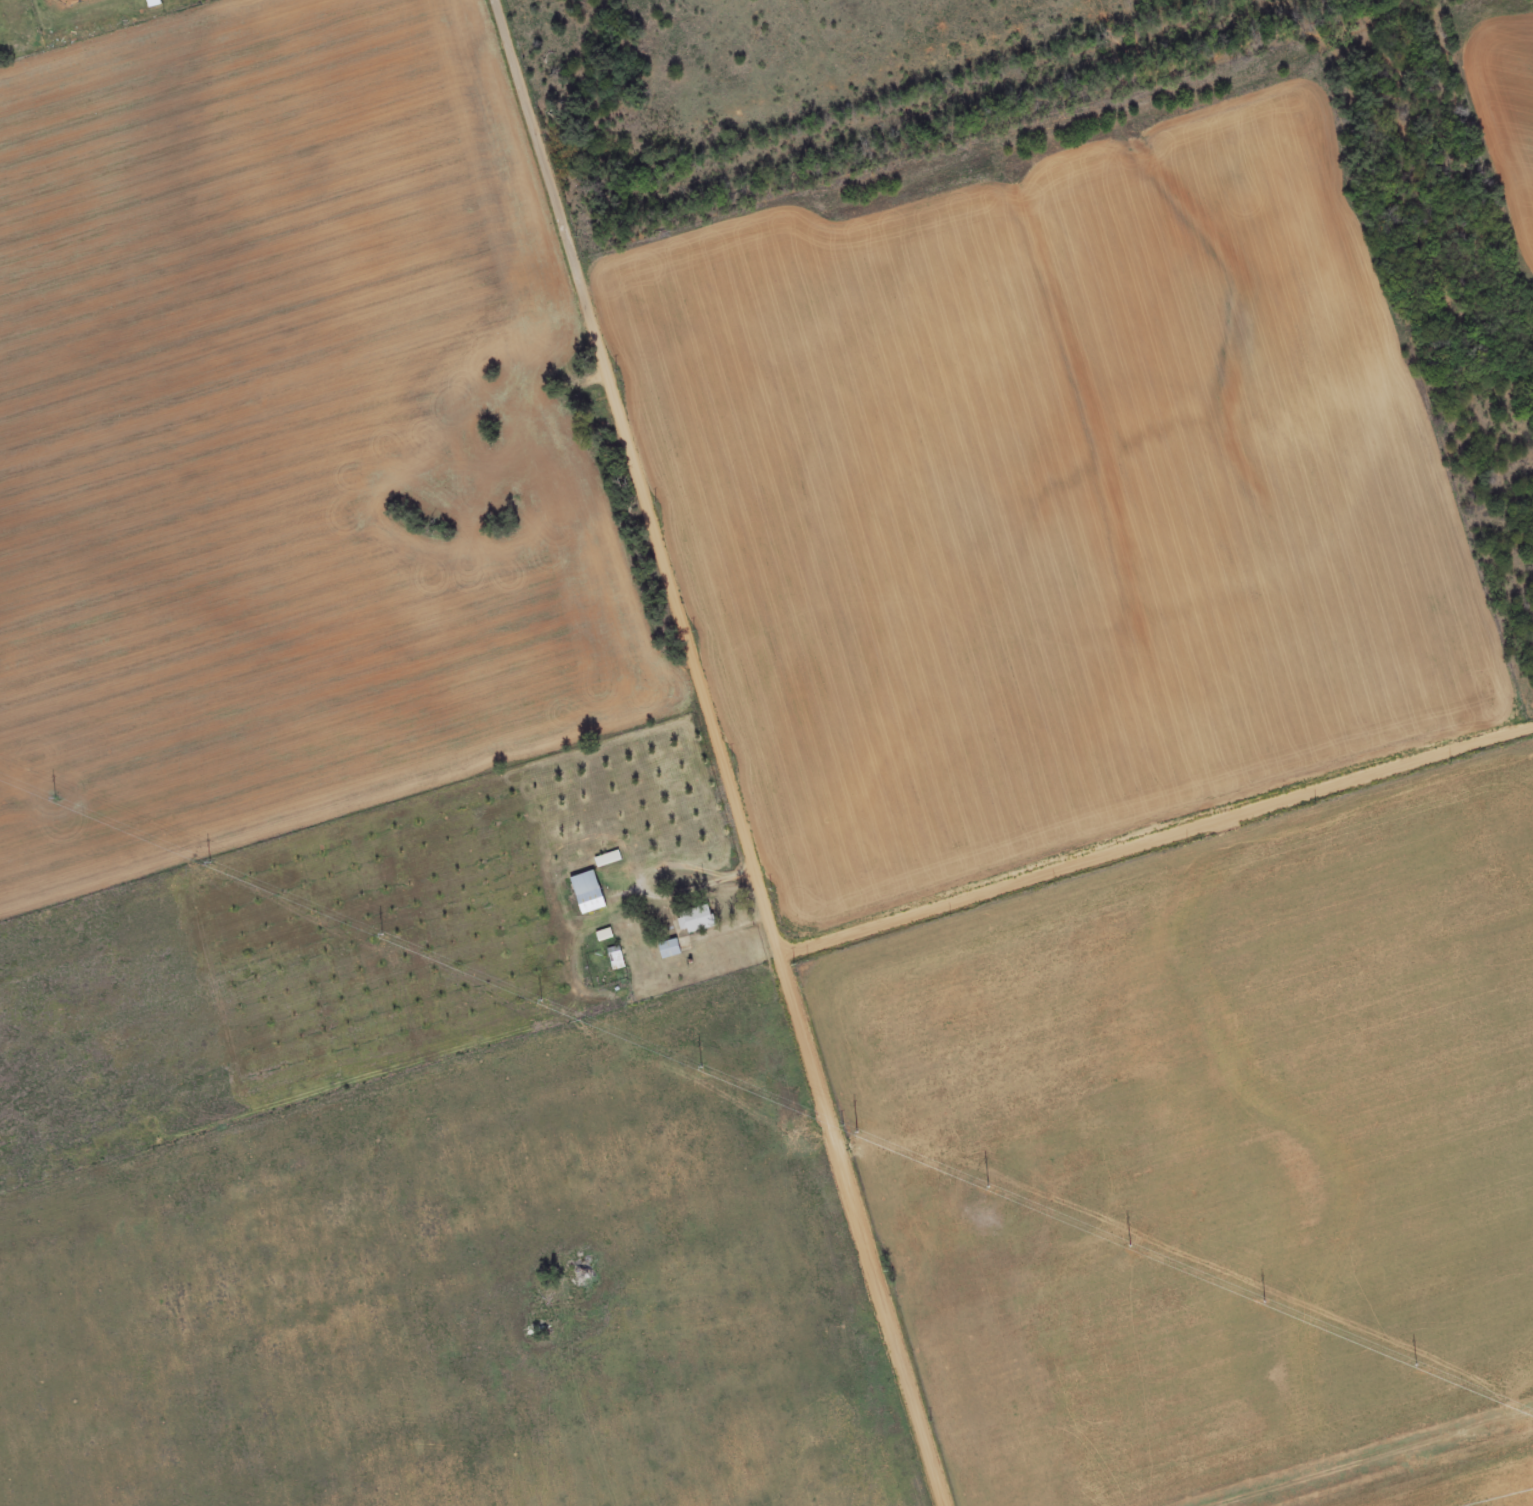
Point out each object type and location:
building: (154, 4)
road: (724, 752)
road: (1157, 836)
building: (589, 894)
building: (698, 921)
building: (670, 950)
building: (617, 959)
building: (584, 1269)
road: (674, 1274)

